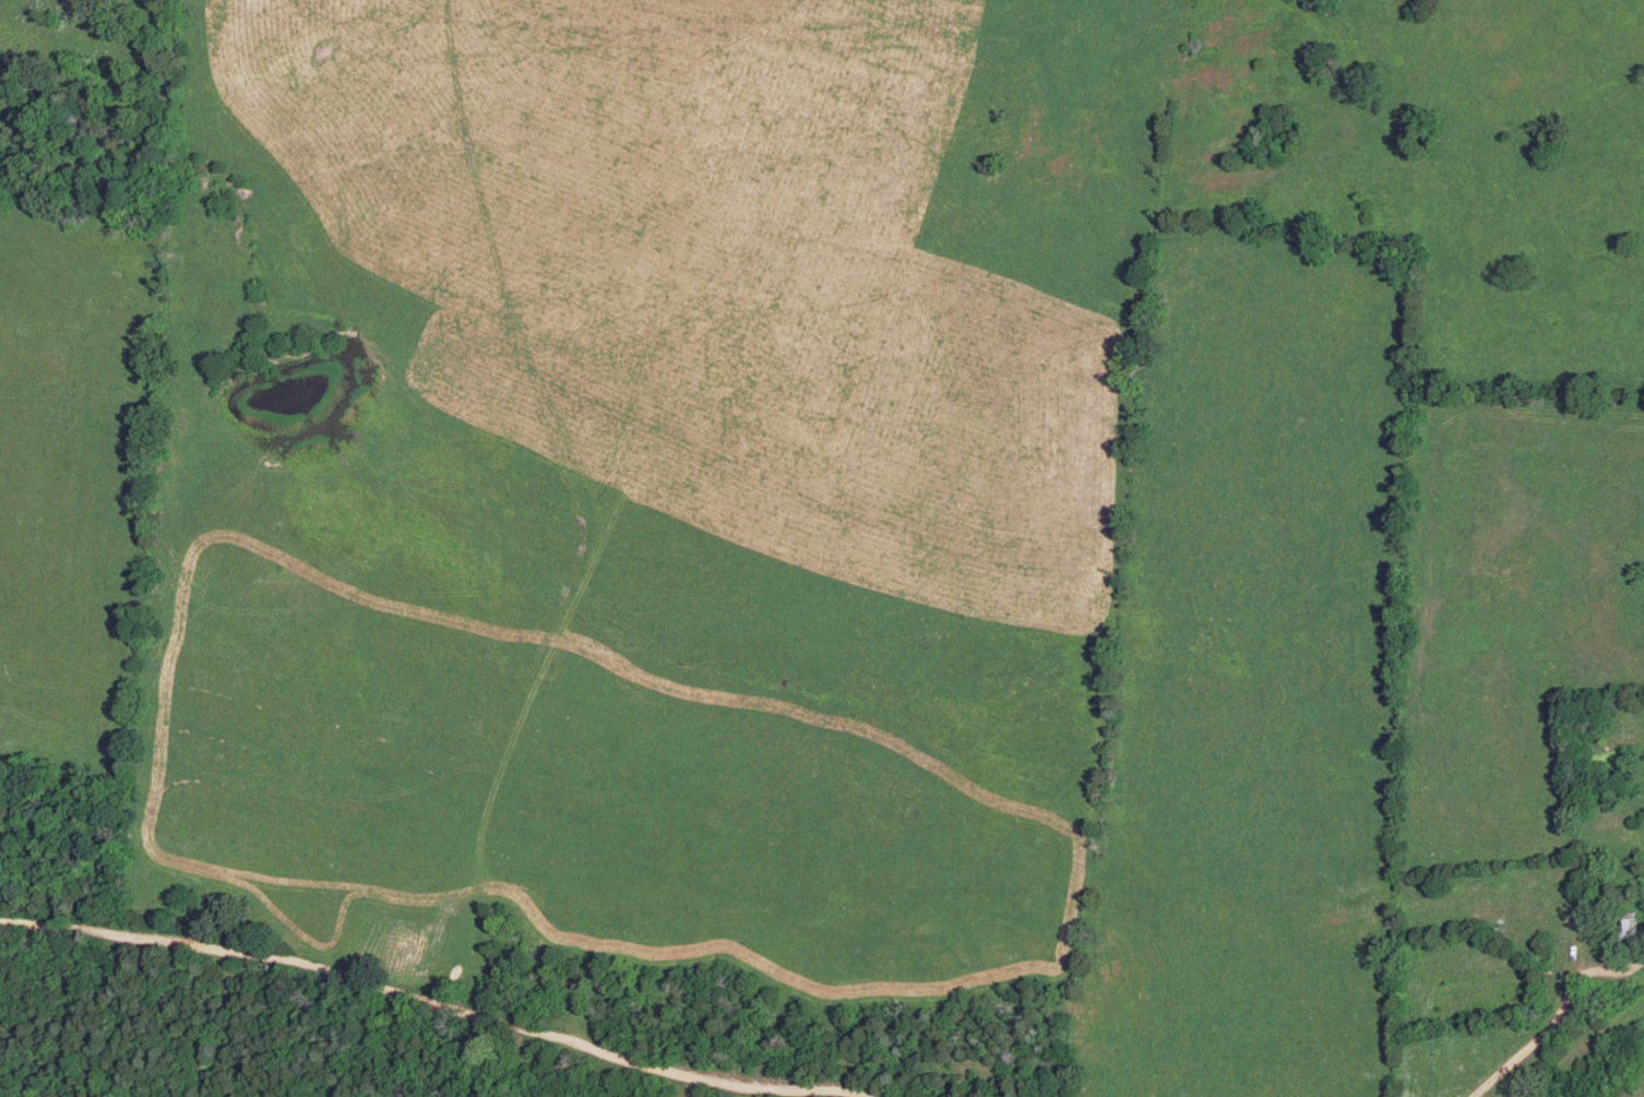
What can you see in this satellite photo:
road: (410, 994)
road: (1554, 1016)

